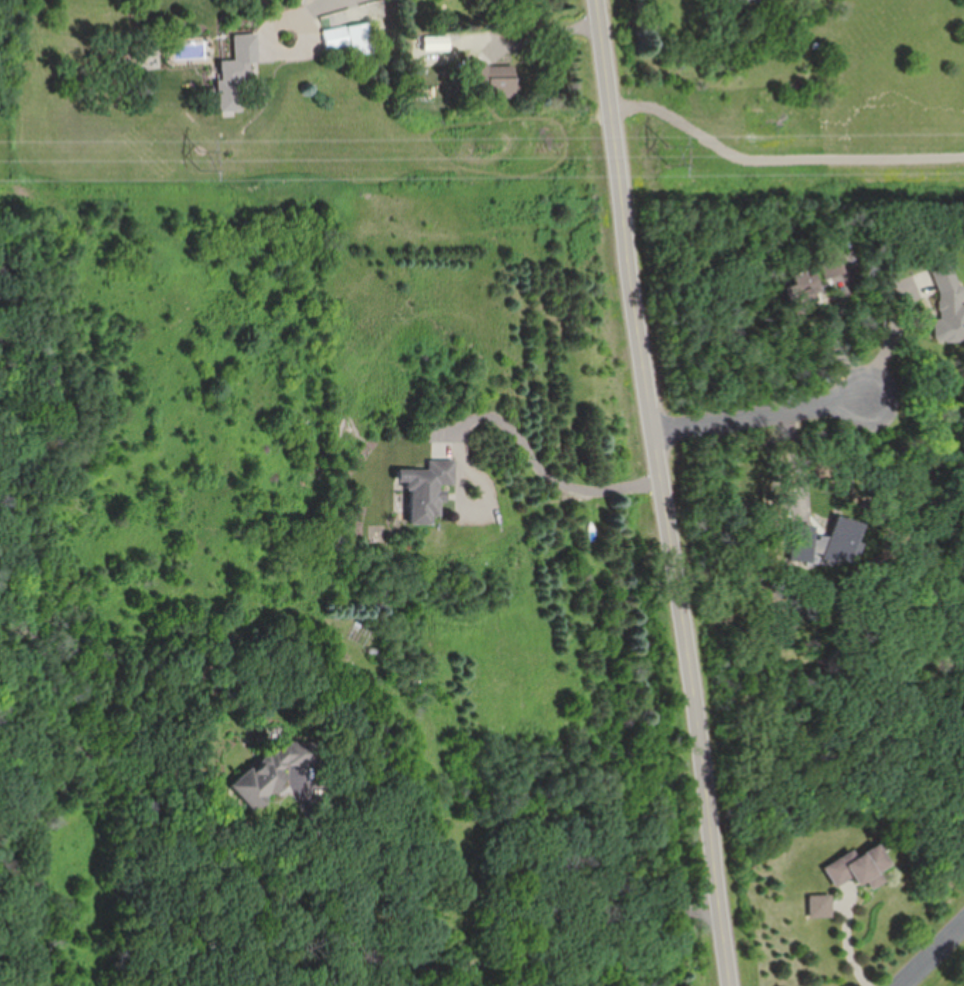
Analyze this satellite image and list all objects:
building: (741, 1)
road: (306, 21)
road: (540, 35)
building: (353, 39)
building: (238, 71)
building: (503, 81)
power tower: (206, 166)
power tower: (669, 167)
building: (828, 265)
building: (800, 286)
building: (946, 298)
road: (889, 345)
road: (842, 348)
road: (764, 413)
road: (478, 475)
building: (429, 490)
road: (667, 492)
building: (376, 650)
building: (273, 772)
building: (854, 867)
road: (349, 875)
road: (295, 905)
building: (816, 906)
road: (847, 944)
road: (929, 951)
park: (962, 984)

